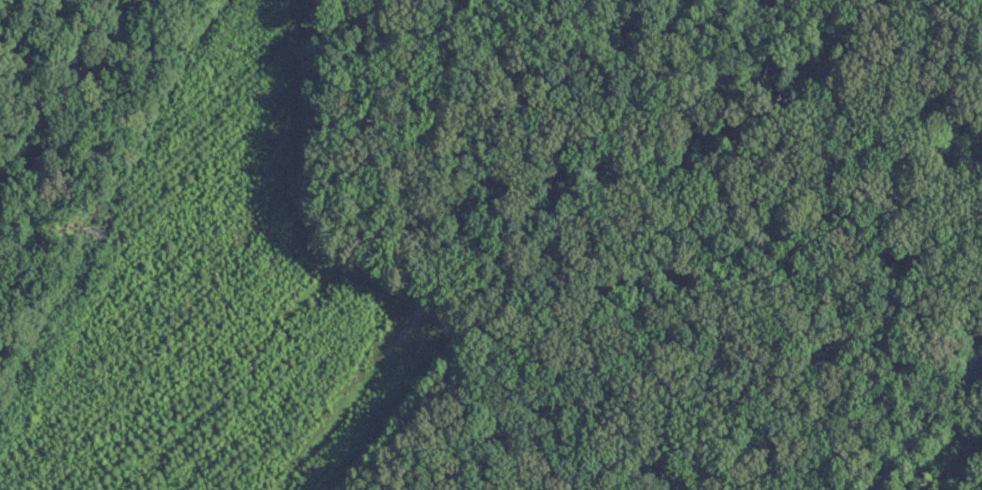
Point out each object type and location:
road: (52, 63)

